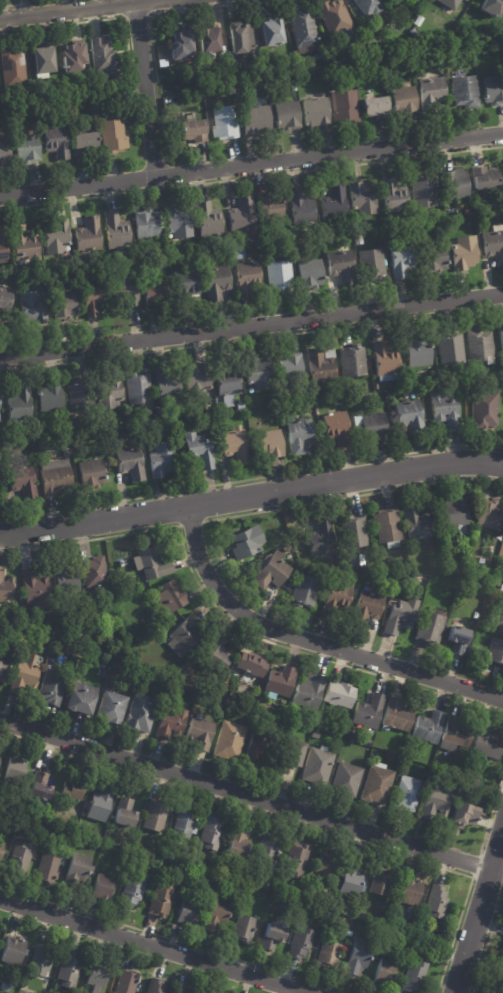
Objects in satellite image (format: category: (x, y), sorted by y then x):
building: (399, 2)
building: (451, 3)
building: (369, 6)
building: (491, 7)
road: (74, 9)
building: (334, 17)
building: (419, 20)
building: (302, 26)
building: (270, 30)
building: (413, 32)
building: (208, 37)
building: (239, 37)
building: (179, 43)
building: (73, 56)
building: (101, 56)
building: (320, 56)
building: (40, 63)
building: (11, 70)
building: (294, 87)
road: (144, 88)
building: (493, 89)
building: (465, 91)
building: (431, 92)
building: (404, 98)
building: (345, 106)
building: (374, 106)
building: (315, 112)
building: (286, 115)
building: (256, 117)
building: (222, 121)
building: (192, 129)
building: (113, 138)
building: (54, 143)
building: (85, 143)
building: (24, 150)
building: (2, 154)
road: (251, 163)
building: (502, 165)
building: (485, 179)
building: (455, 184)
building: (421, 190)
building: (395, 197)
building: (362, 198)
building: (334, 203)
building: (268, 207)
building: (300, 209)
building: (241, 217)
building: (207, 218)
building: (179, 222)
building: (146, 223)
building: (116, 231)
building: (88, 234)
building: (56, 237)
building: (357, 239)
building: (23, 243)
building: (493, 243)
building: (3, 246)
building: (463, 252)
building: (162, 253)
building: (238, 255)
building: (434, 255)
building: (169, 258)
building: (400, 258)
building: (371, 263)
building: (340, 266)
building: (53, 268)
building: (310, 273)
building: (278, 276)
building: (245, 278)
building: (216, 282)
building: (185, 285)
building: (125, 288)
building: (153, 290)
building: (4, 295)
building: (91, 298)
building: (65, 304)
building: (31, 306)
road: (251, 325)
building: (501, 337)
building: (479, 345)
building: (449, 350)
building: (416, 353)
building: (352, 360)
building: (384, 362)
building: (288, 368)
building: (320, 368)
building: (255, 372)
building: (196, 380)
building: (228, 383)
building: (375, 386)
building: (457, 388)
building: (136, 389)
building: (166, 389)
building: (107, 391)
building: (334, 395)
building: (78, 396)
building: (49, 397)
building: (19, 405)
building: (239, 406)
building: (483, 410)
building: (443, 411)
building: (408, 416)
building: (32, 424)
building: (336, 427)
building: (372, 427)
building: (172, 430)
building: (298, 434)
building: (269, 443)
building: (232, 446)
building: (196, 450)
building: (161, 460)
building: (129, 463)
building: (91, 474)
building: (56, 478)
building: (21, 480)
road: (251, 495)
building: (452, 513)
building: (488, 515)
building: (417, 523)
building: (386, 528)
building: (354, 532)
building: (141, 539)
building: (320, 539)
building: (245, 543)
building: (470, 556)
building: (498, 556)
building: (151, 564)
building: (498, 567)
building: (393, 570)
building: (271, 572)
building: (92, 573)
building: (65, 581)
building: (468, 582)
building: (6, 587)
building: (33, 588)
building: (501, 589)
building: (303, 592)
building: (340, 593)
building: (458, 593)
building: (169, 597)
building: (368, 608)
building: (400, 616)
building: (475, 616)
building: (26, 621)
building: (498, 622)
building: (149, 624)
building: (428, 628)
building: (141, 631)
building: (183, 636)
road: (312, 641)
building: (456, 641)
building: (494, 652)
building: (215, 653)
building: (0, 654)
building: (191, 660)
building: (251, 666)
building: (2, 671)
building: (101, 673)
building: (484, 674)
building: (26, 677)
building: (280, 683)
building: (52, 688)
building: (308, 693)
building: (232, 694)
building: (338, 698)
building: (79, 700)
building: (218, 705)
building: (111, 708)
building: (367, 713)
building: (139, 714)
building: (397, 717)
building: (171, 722)
building: (427, 727)
building: (201, 733)
building: (314, 735)
building: (341, 735)
building: (455, 736)
building: (230, 741)
building: (366, 743)
building: (485, 746)
building: (256, 749)
building: (293, 753)
building: (317, 768)
building: (15, 771)
building: (346, 780)
building: (376, 784)
building: (40, 787)
building: (70, 792)
road: (246, 794)
building: (404, 795)
building: (436, 802)
building: (100, 805)
building: (125, 814)
building: (154, 817)
building: (461, 817)
building: (183, 825)
building: (82, 829)
building: (210, 834)
building: (68, 838)
building: (136, 840)
building: (97, 844)
building: (1, 846)
building: (238, 846)
building: (267, 850)
building: (19, 859)
building: (295, 862)
building: (325, 866)
building: (46, 868)
building: (79, 868)
building: (180, 870)
building: (191, 875)
building: (149, 877)
building: (350, 881)
building: (380, 884)
building: (102, 888)
building: (410, 891)
building: (130, 893)
building: (158, 901)
building: (436, 903)
building: (338, 906)
building: (188, 913)
road: (478, 913)
building: (217, 915)
building: (361, 915)
building: (339, 920)
building: (244, 929)
building: (348, 934)
building: (274, 936)
building: (398, 938)
building: (406, 942)
building: (300, 944)
road: (154, 946)
building: (12, 950)
building: (328, 956)
building: (357, 958)
building: (39, 961)
building: (67, 971)
building: (499, 971)
building: (385, 973)
building: (97, 975)
building: (412, 978)
building: (125, 982)
building: (5, 986)
building: (155, 986)
building: (187, 991)

